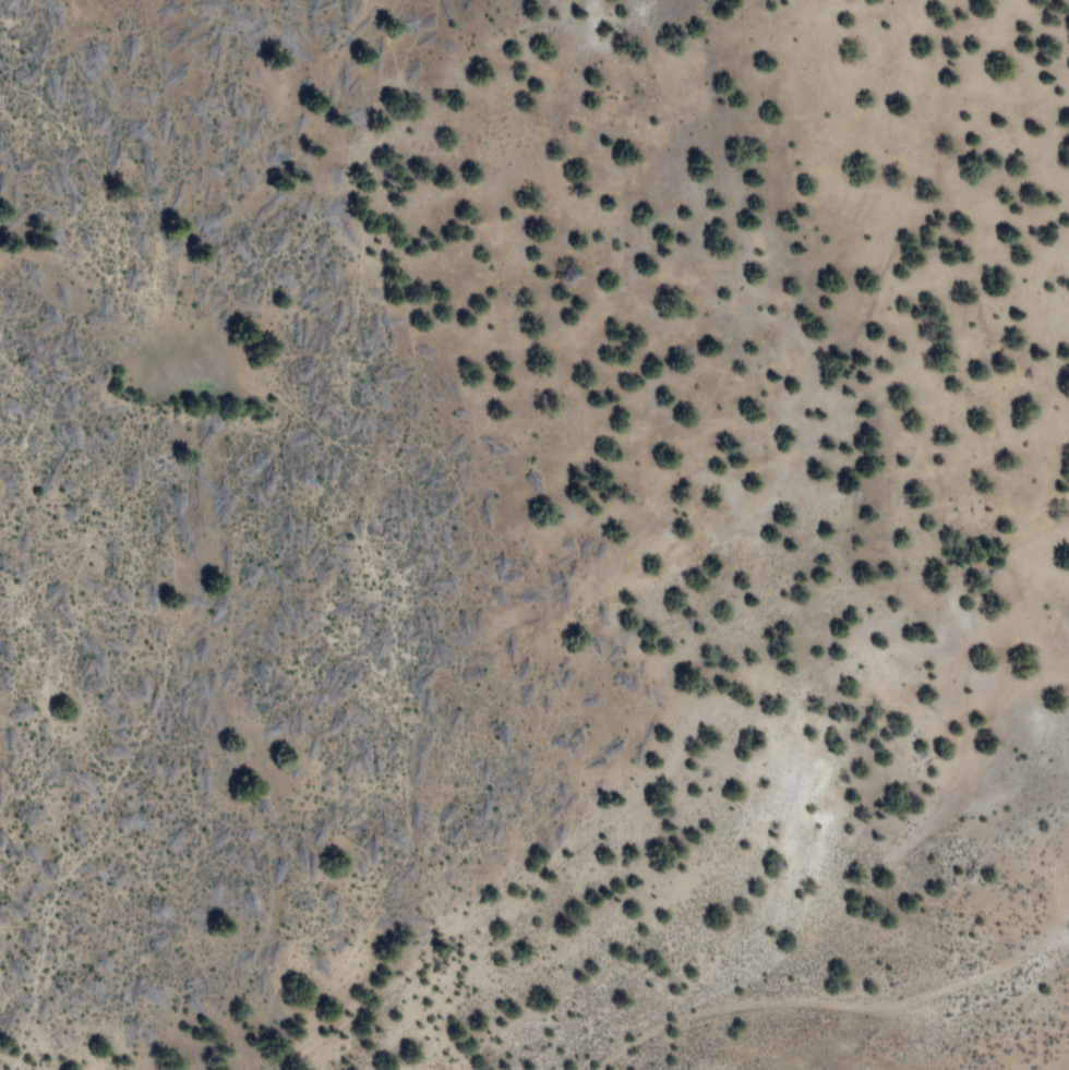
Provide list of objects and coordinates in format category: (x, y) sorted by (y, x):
road: (886, 1009)

